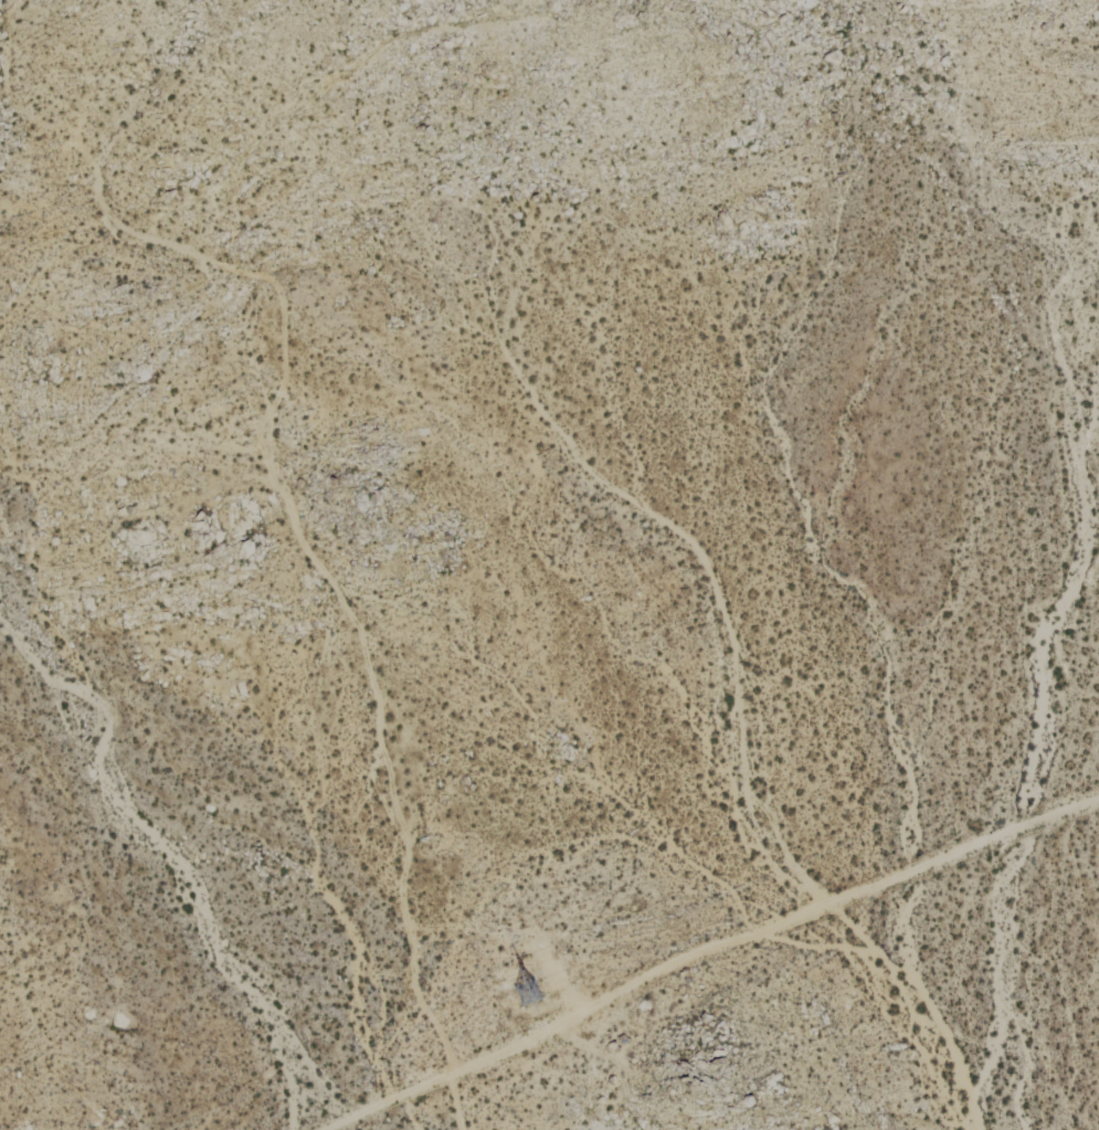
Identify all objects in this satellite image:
road: (707, 951)
power tower: (528, 994)

